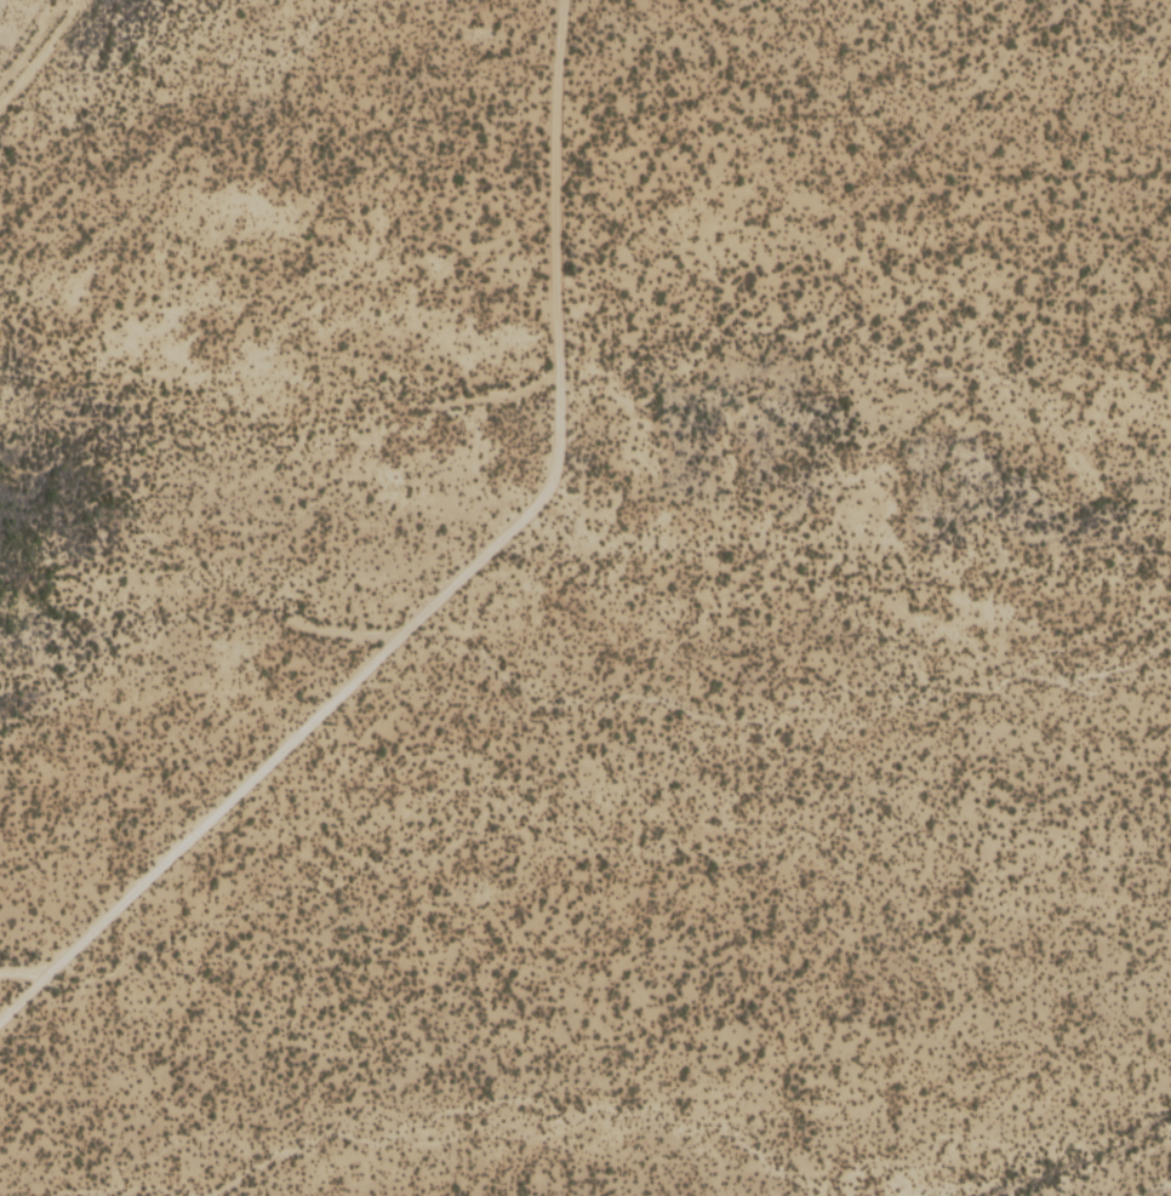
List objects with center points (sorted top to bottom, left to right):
building: (685, 124)
building: (726, 968)

